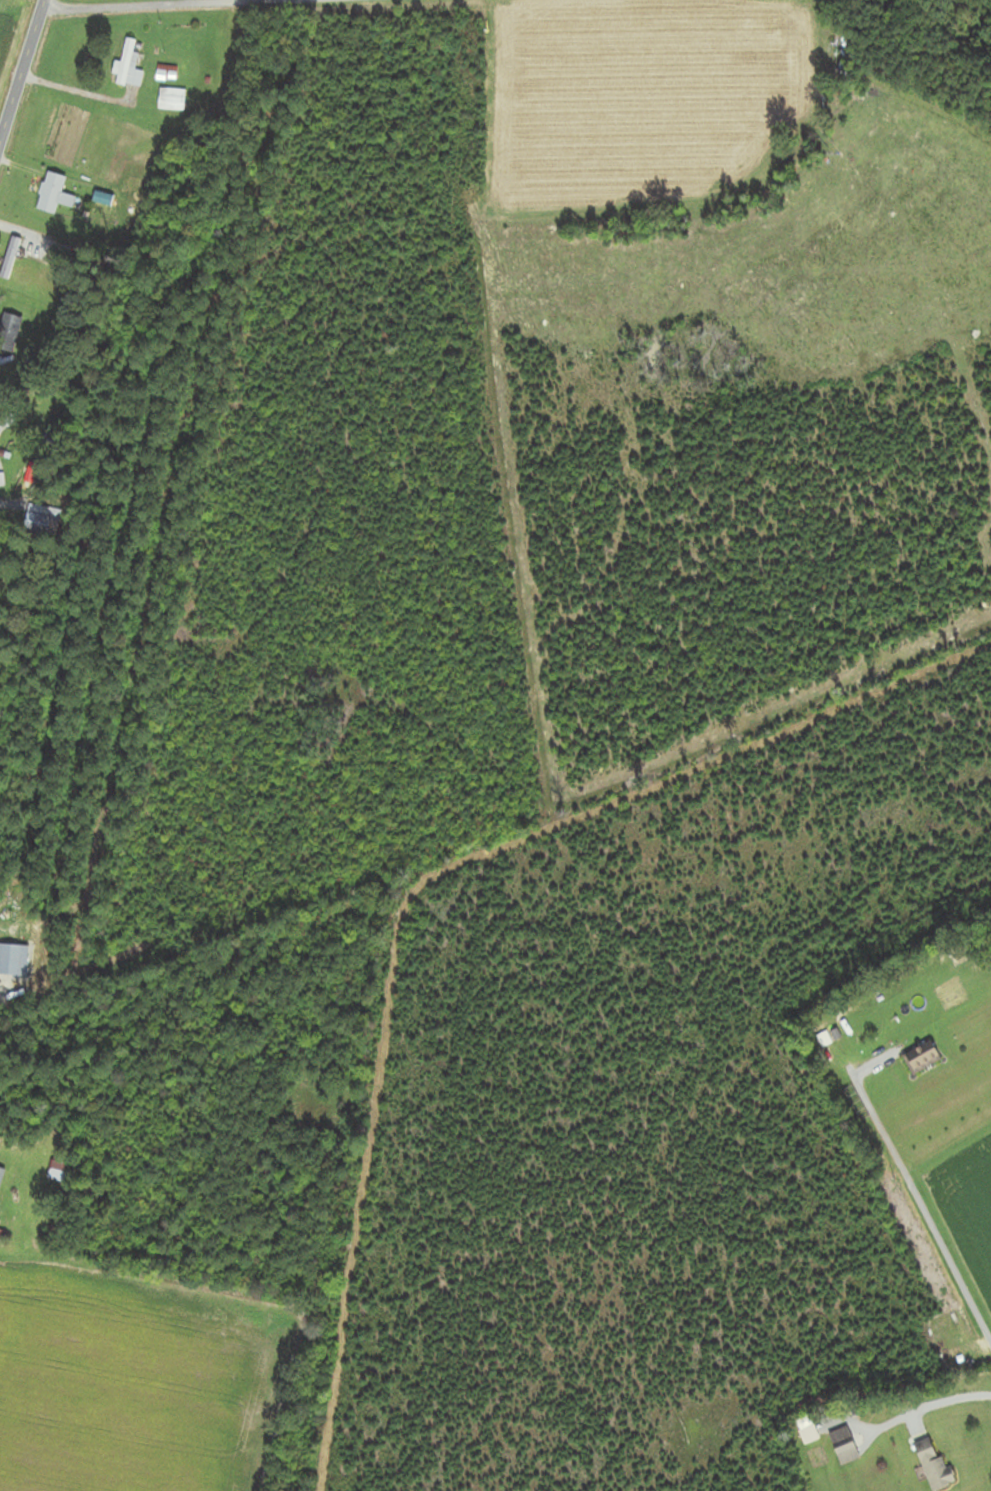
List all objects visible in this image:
road: (212, 9)
building: (128, 65)
road: (22, 71)
building: (169, 98)
building: (52, 194)
building: (9, 257)
building: (9, 331)
building: (35, 522)
building: (921, 1058)
building: (60, 1171)
building: (1, 1174)
road: (919, 1199)
building: (0, 1222)
road: (929, 1409)
building: (843, 1445)
building: (934, 1466)

